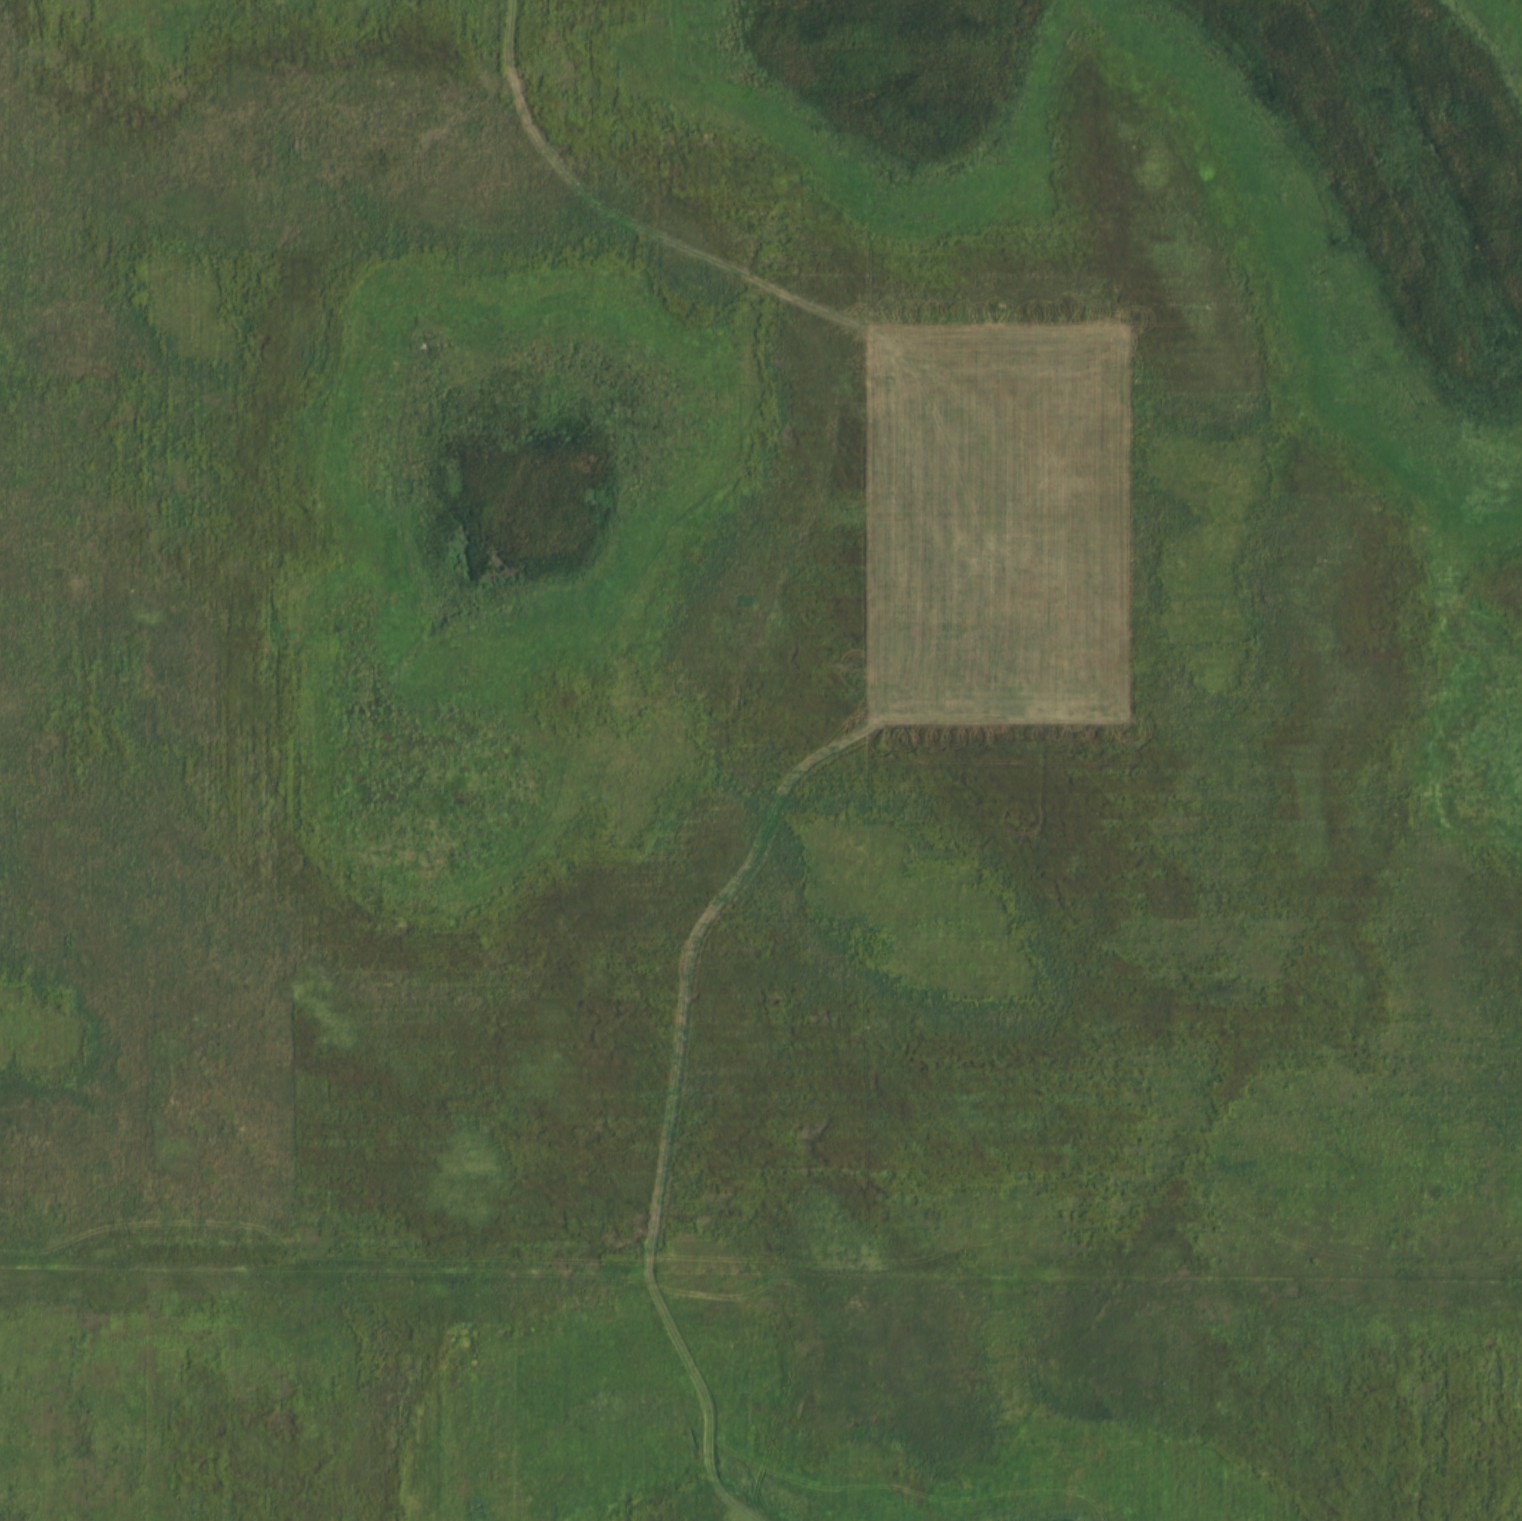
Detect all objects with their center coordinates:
building: (736, 1072)

